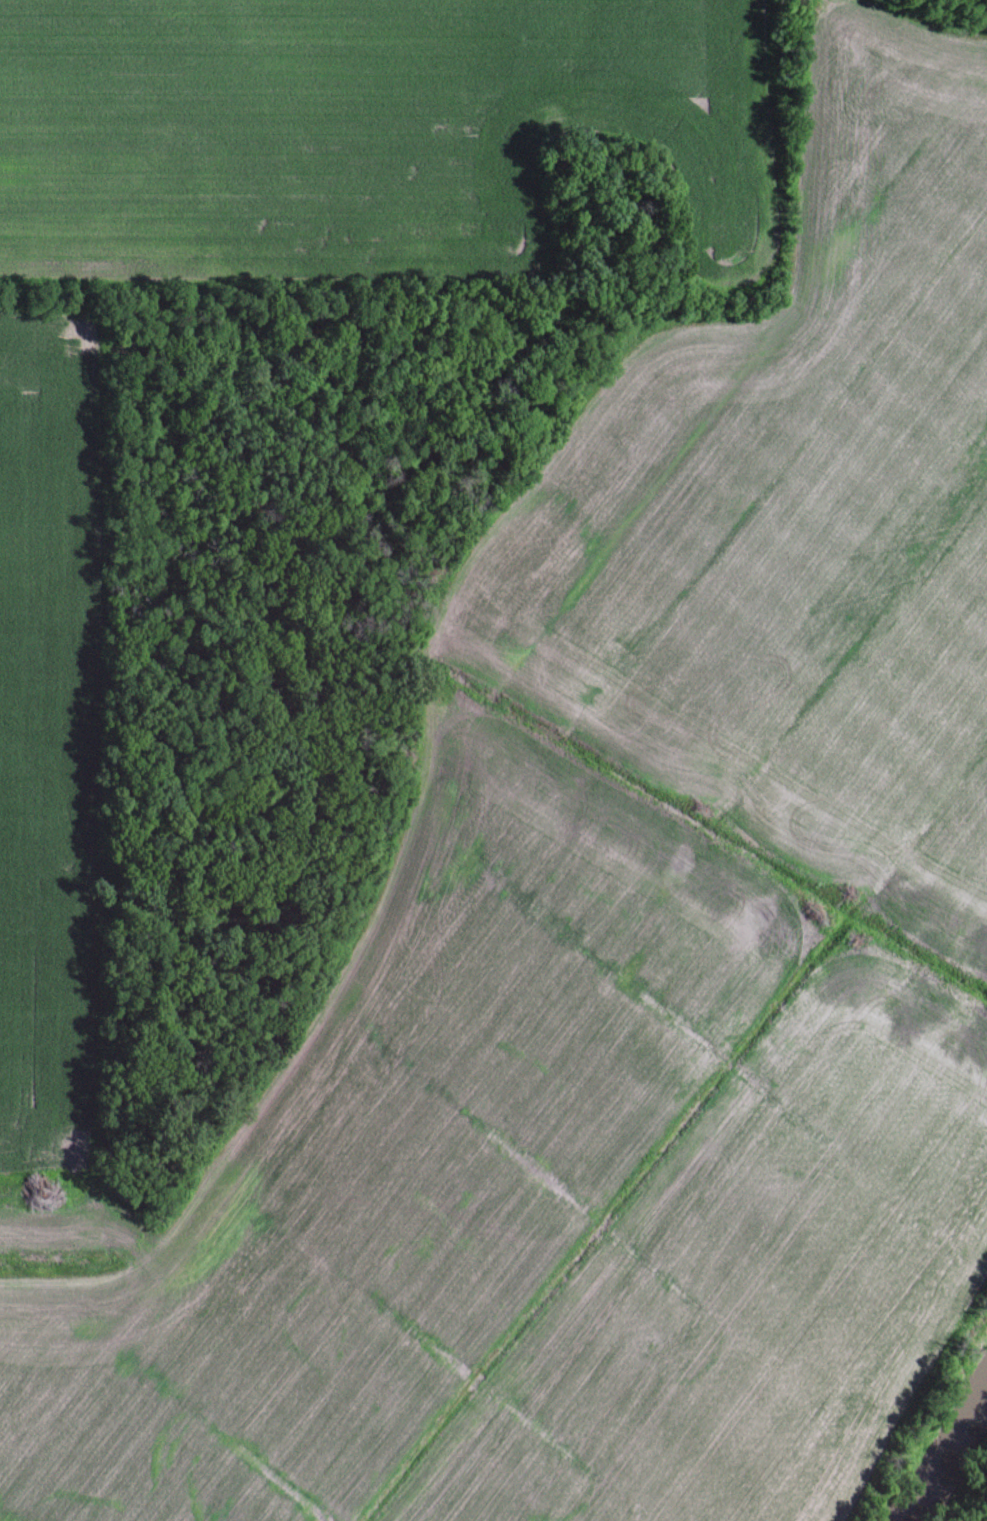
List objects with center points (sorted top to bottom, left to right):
river: (950, 1455)

